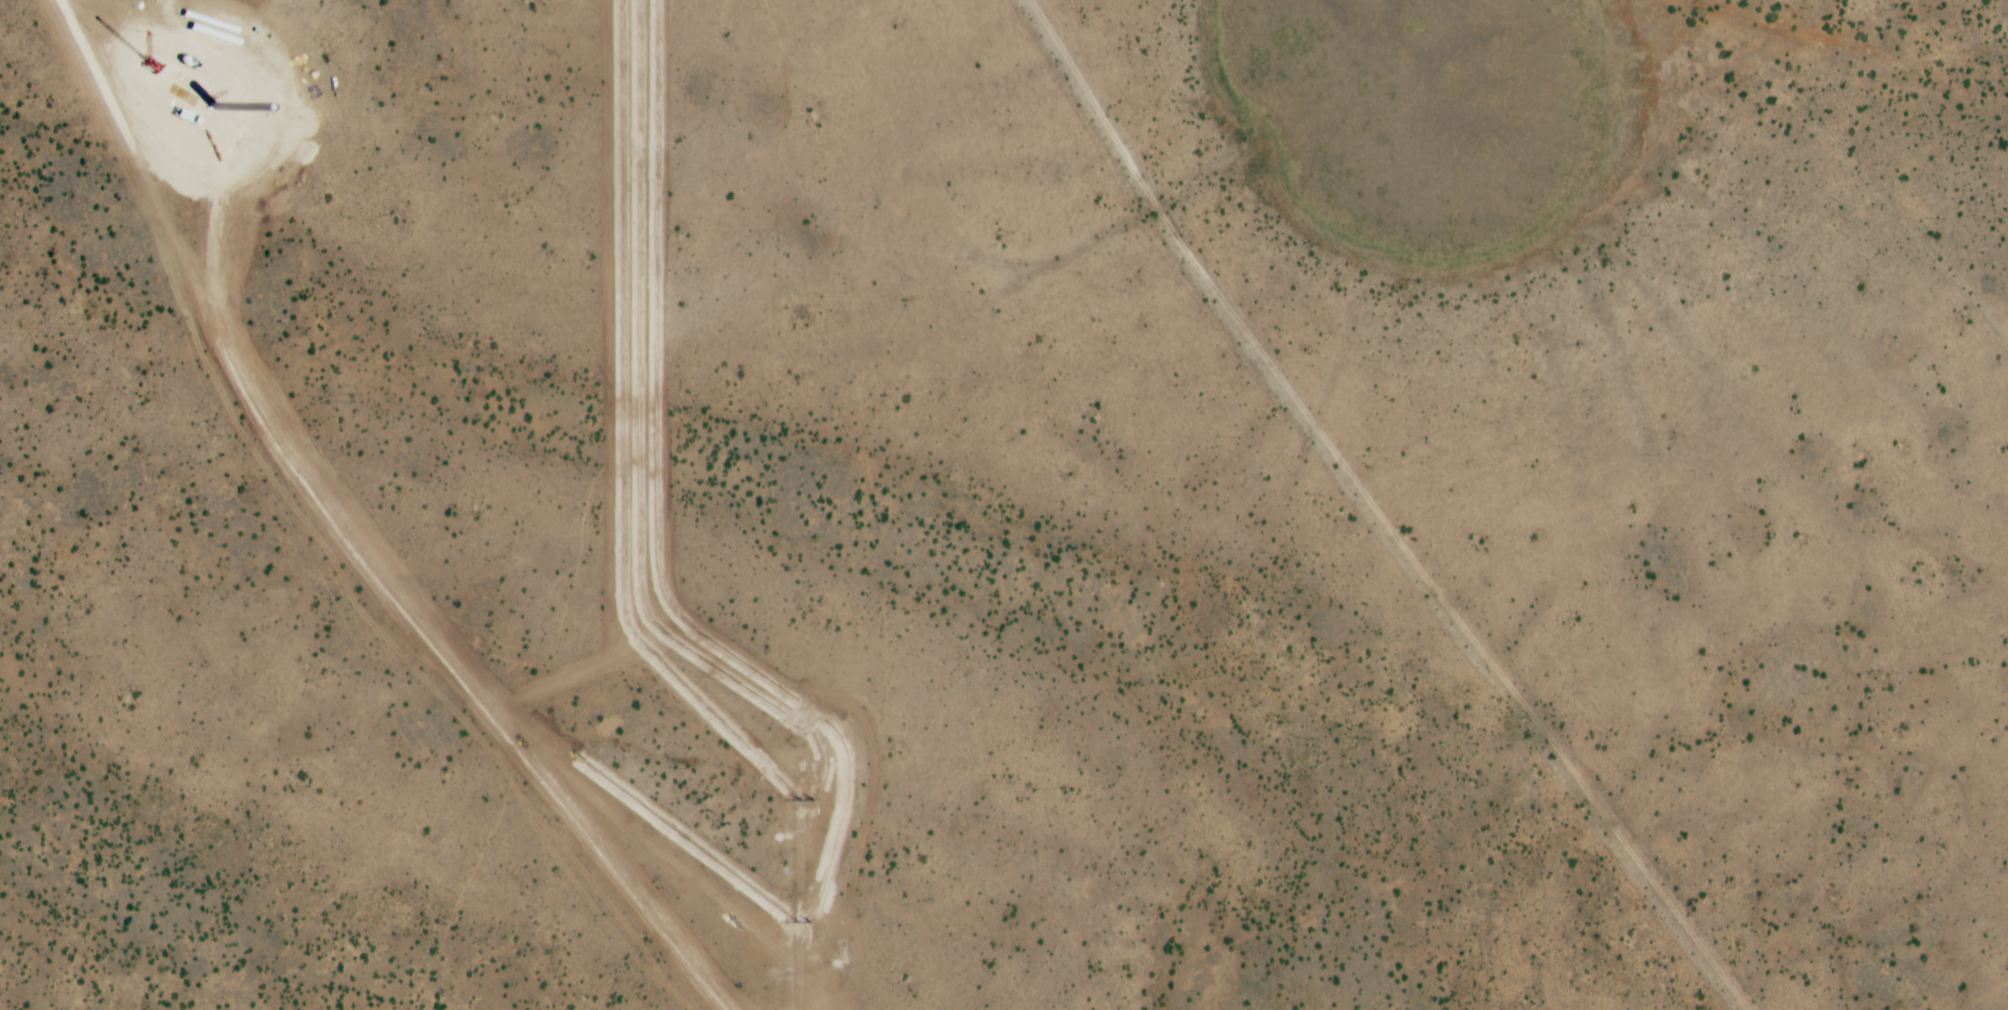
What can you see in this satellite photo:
wind turbine: (200, 100)

